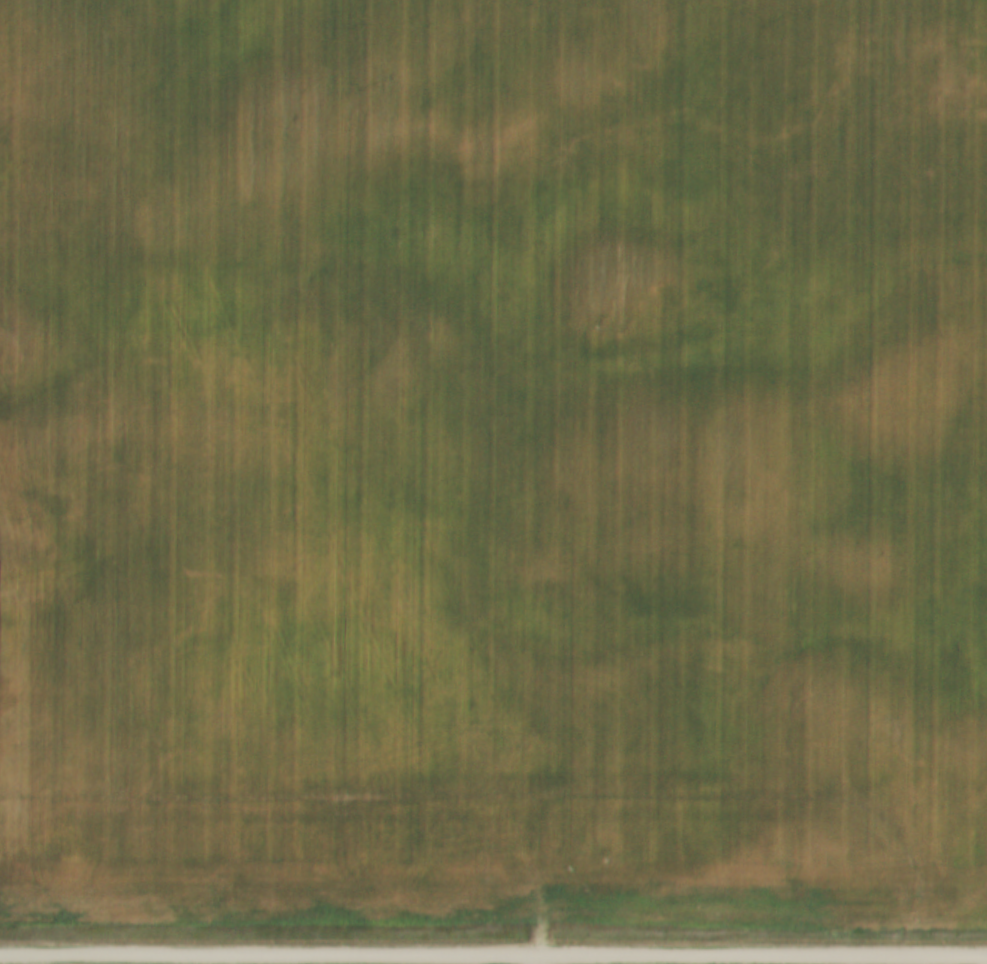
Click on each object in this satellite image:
road: (493, 951)

